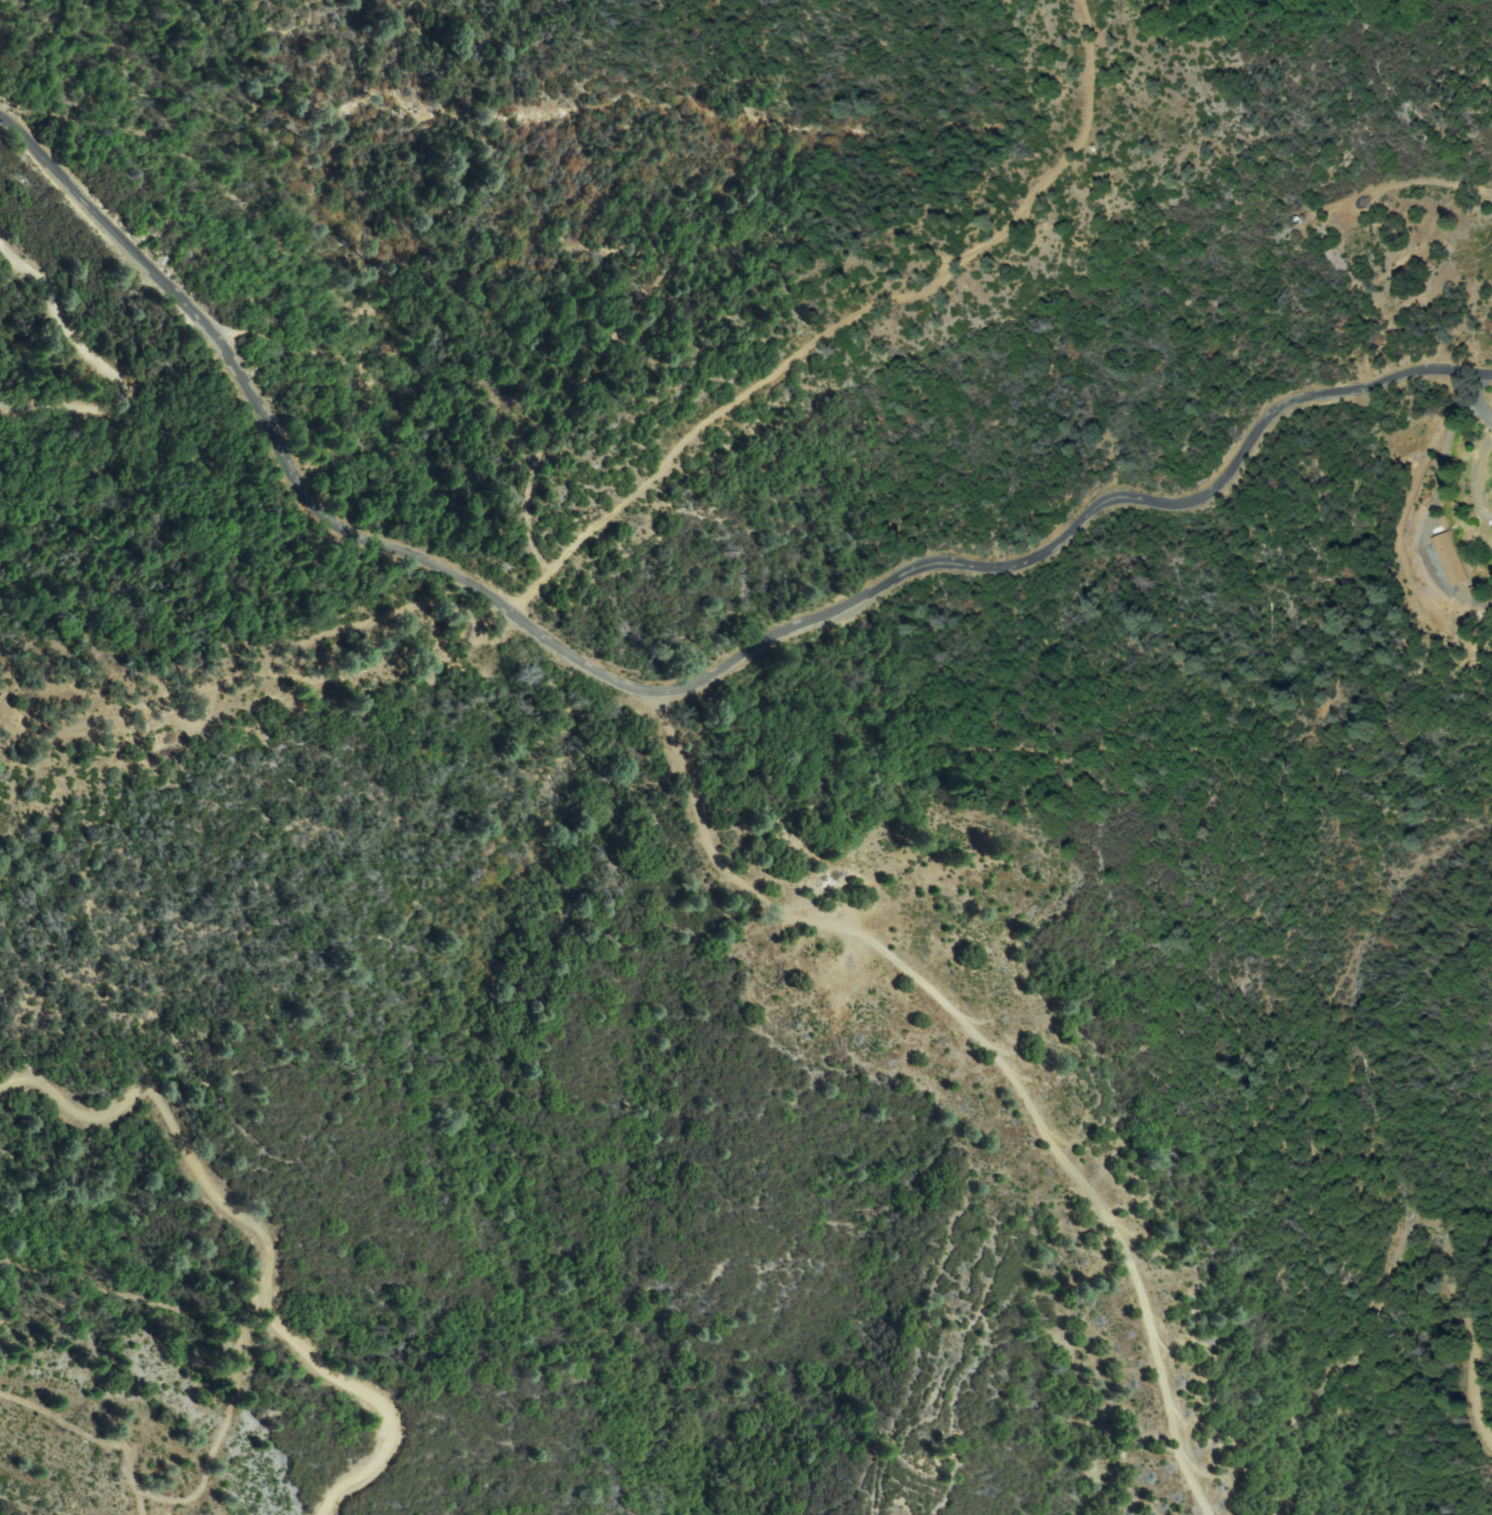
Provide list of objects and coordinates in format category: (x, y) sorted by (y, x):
road: (119, 369)
road: (648, 487)
building: (1451, 560)
road: (682, 699)
road: (981, 1057)
road: (253, 1227)
road: (1396, 1258)
road: (73, 1450)

